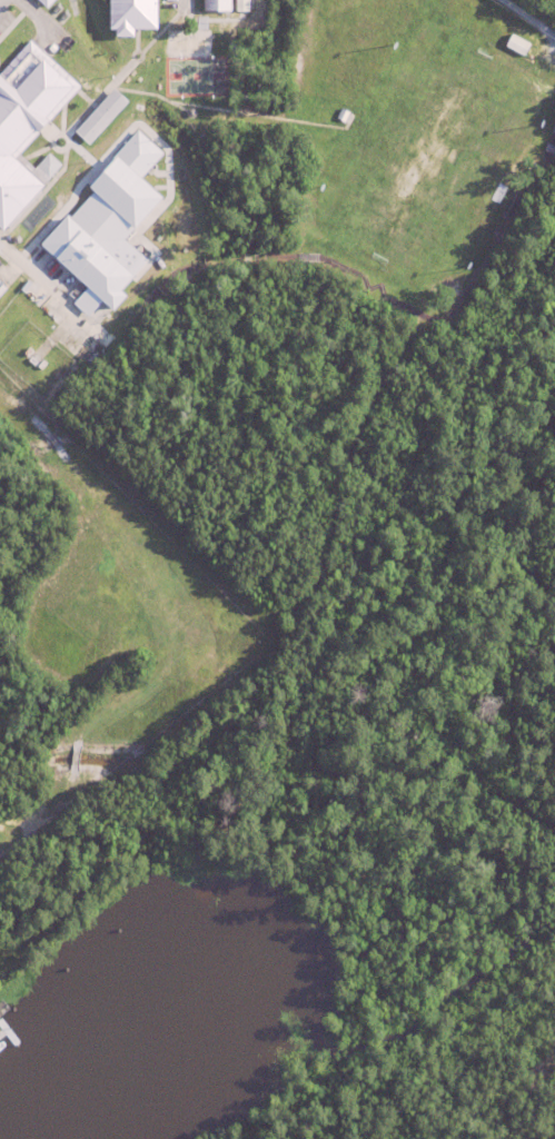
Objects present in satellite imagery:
building: (47, 2)
building: (210, 6)
building: (238, 6)
building: (129, 14)
road: (38, 17)
building: (98, 115)
building: (24, 117)
building: (105, 228)
road: (37, 277)
building: (0, 281)

